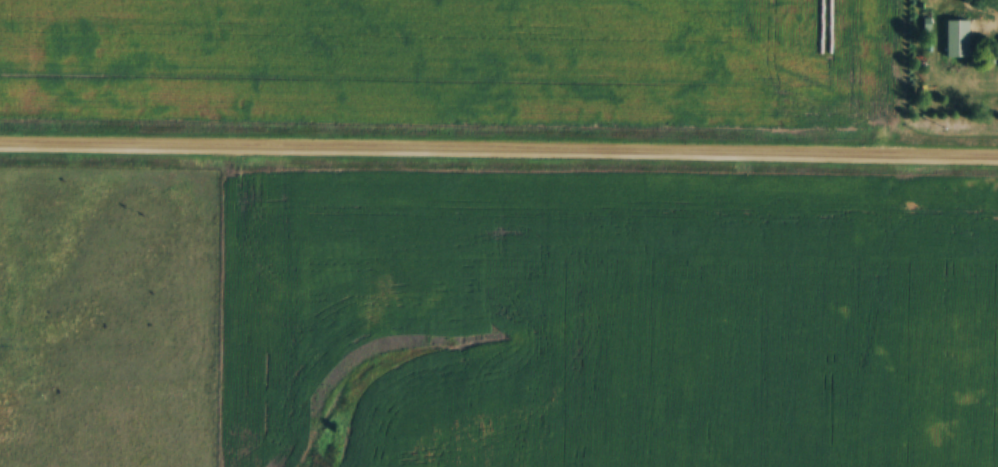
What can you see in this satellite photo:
building: (955, 41)
road: (499, 153)

